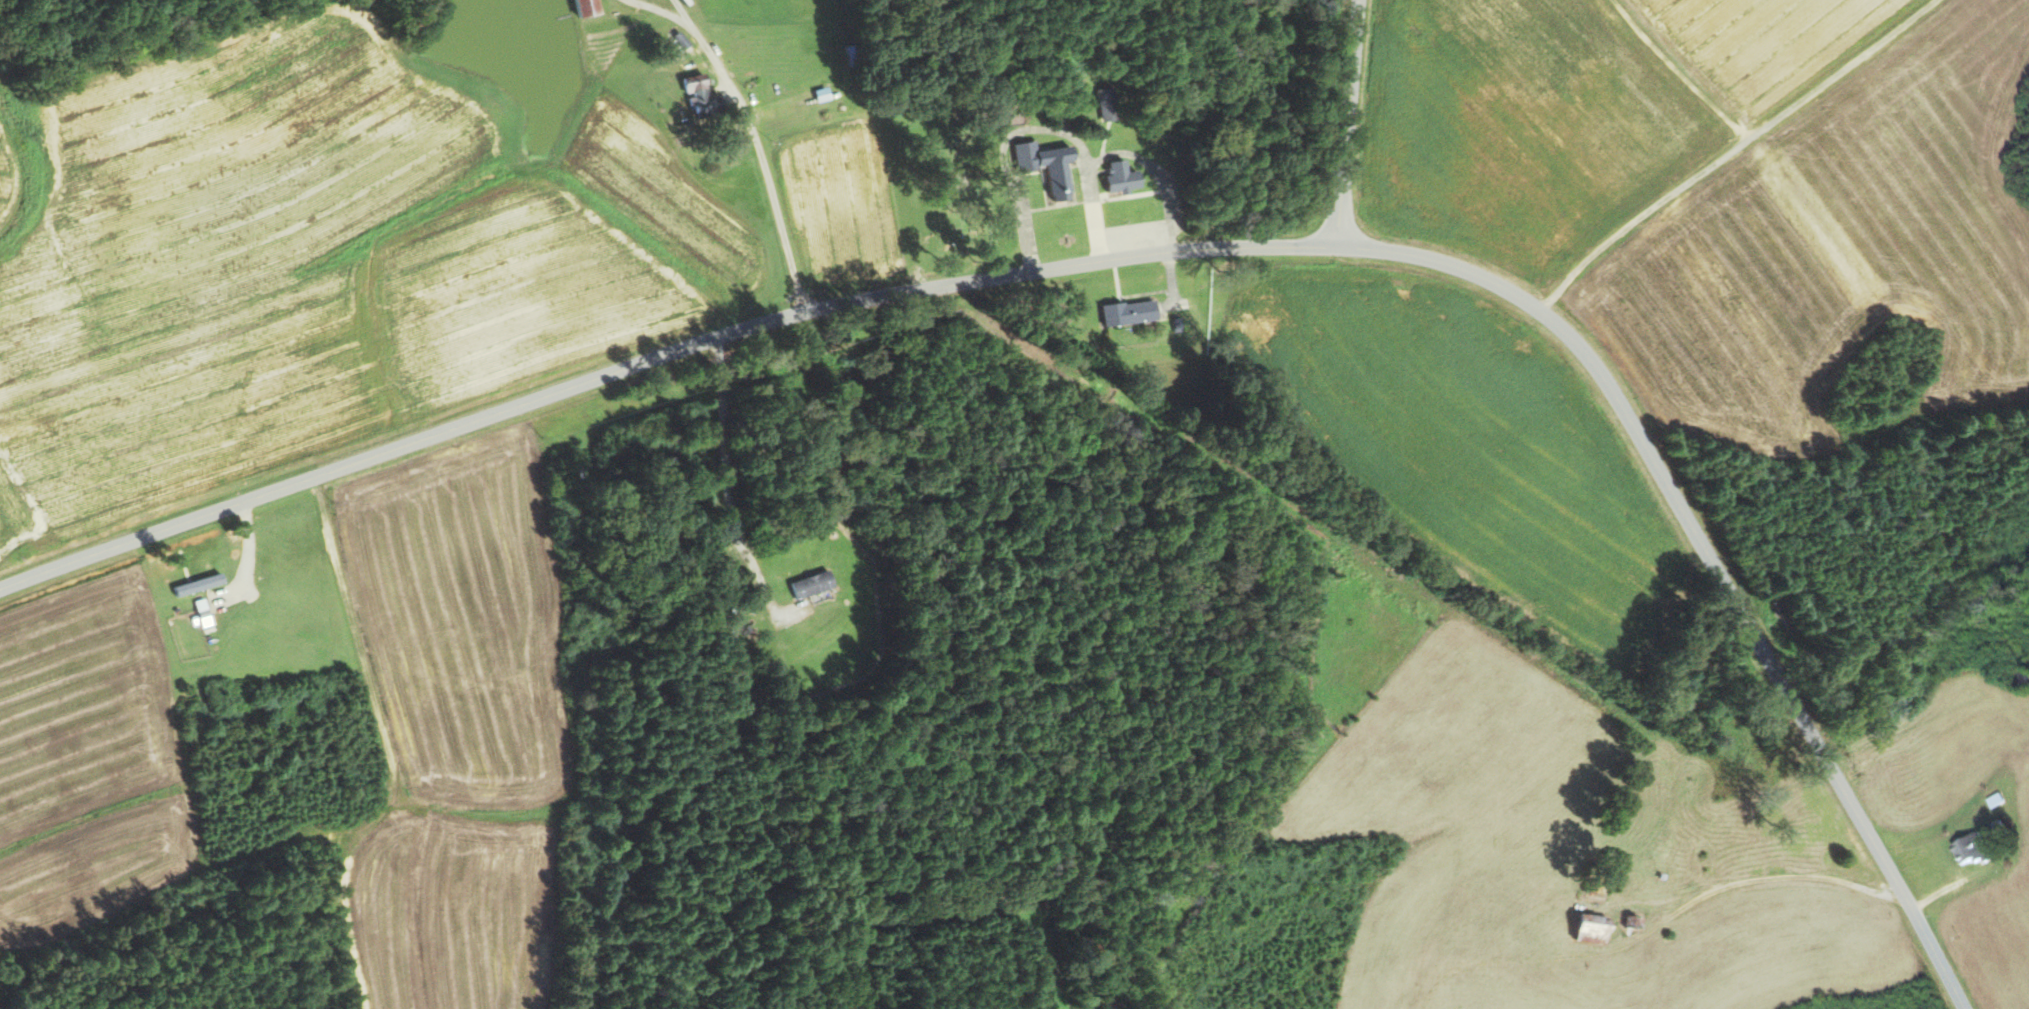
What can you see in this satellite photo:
building: (579, 8)
road: (680, 9)
road: (655, 10)
building: (691, 88)
road: (1349, 122)
road: (762, 160)
building: (1041, 166)
building: (1117, 177)
road: (1159, 255)
building: (1124, 313)
building: (1174, 325)
road: (725, 486)
building: (809, 584)
building: (202, 585)
building: (206, 613)
building: (1967, 849)
building: (1590, 887)
building: (1628, 922)
building: (1586, 929)
road: (1650, 931)

